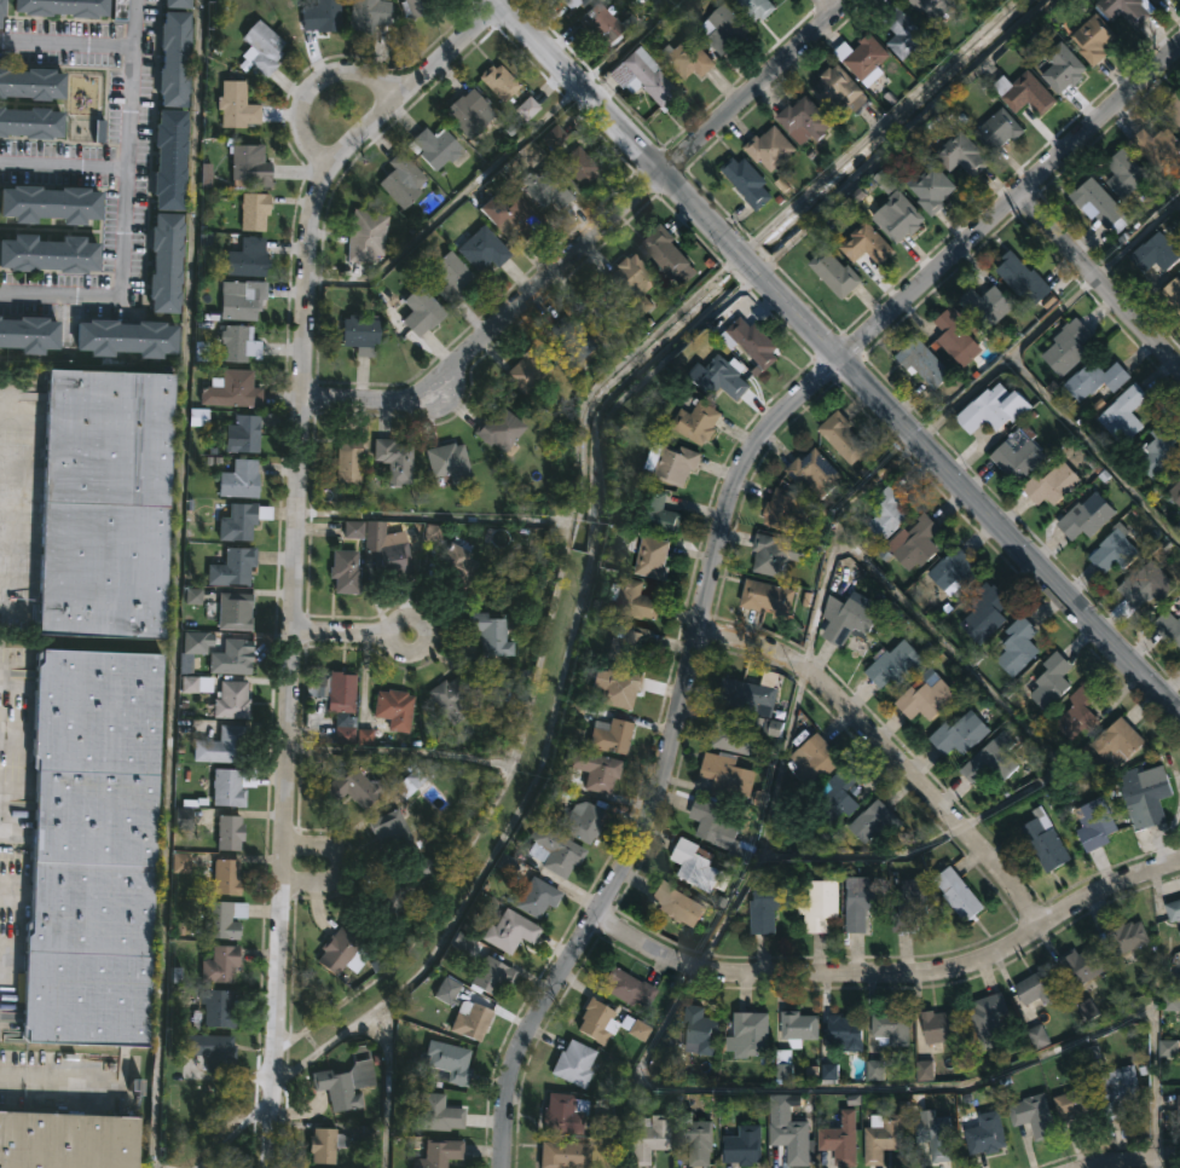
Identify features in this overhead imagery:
building: (1157, 1)
building: (571, 2)
road: (667, 4)
building: (175, 5)
road: (829, 5)
building: (0, 7)
building: (63, 7)
building: (416, 7)
building: (758, 7)
building: (935, 8)
building: (1123, 10)
building: (317, 15)
building: (368, 15)
building: (601, 24)
building: (724, 29)
building: (906, 34)
building: (1095, 40)
road: (66, 44)
road: (630, 44)
building: (261, 48)
building: (684, 57)
building: (867, 57)
building: (173, 60)
building: (1063, 68)
building: (642, 80)
building: (30, 83)
building: (498, 83)
road: (313, 85)
building: (840, 92)
building: (1026, 93)
building: (236, 105)
building: (1173, 110)
building: (469, 114)
building: (29, 121)
building: (806, 121)
road: (618, 126)
road: (877, 127)
building: (1000, 131)
road: (908, 138)
building: (434, 148)
building: (1158, 148)
building: (770, 149)
building: (962, 155)
building: (168, 160)
building: (248, 162)
road: (64, 164)
building: (579, 167)
building: (1124, 179)
building: (403, 181)
building: (747, 183)
building: (932, 189)
building: (545, 190)
building: (50, 202)
road: (452, 204)
building: (1101, 206)
building: (254, 210)
building: (893, 210)
road: (126, 213)
building: (511, 219)
building: (365, 236)
road: (589, 238)
road: (1138, 238)
building: (868, 245)
building: (484, 250)
building: (1158, 251)
building: (48, 253)
building: (669, 253)
building: (247, 256)
building: (164, 261)
road: (748, 262)
building: (452, 271)
building: (835, 273)
building: (1024, 279)
road: (1098, 281)
building: (635, 282)
building: (1172, 293)
building: (241, 299)
building: (988, 305)
building: (602, 310)
building: (421, 311)
building: (359, 334)
building: (29, 335)
building: (959, 335)
building: (125, 336)
building: (571, 340)
building: (754, 341)
building: (238, 342)
building: (1069, 347)
road: (1006, 358)
building: (925, 362)
building: (526, 370)
building: (723, 375)
building: (1098, 378)
building: (232, 391)
building: (995, 407)
building: (1128, 411)
road: (16, 414)
building: (698, 420)
building: (499, 428)
building: (241, 434)
building: (844, 436)
building: (1162, 447)
road: (1092, 450)
building: (1020, 452)
building: (394, 459)
building: (349, 461)
building: (447, 462)
building: (671, 462)
building: (1178, 467)
road: (15, 470)
building: (815, 472)
building: (239, 480)
building: (1053, 482)
road: (573, 491)
building: (1175, 492)
road: (971, 496)
building: (103, 503)
building: (783, 510)
building: (891, 510)
building: (658, 511)
building: (1087, 516)
building: (239, 520)
road: (8, 526)
building: (354, 532)
road: (719, 532)
building: (919, 543)
road: (295, 547)
building: (1117, 550)
building: (773, 554)
building: (392, 556)
building: (653, 557)
building: (457, 562)
building: (232, 566)
building: (956, 567)
building: (345, 571)
road: (16, 580)
road: (180, 584)
building: (1147, 584)
building: (634, 599)
building: (765, 599)
building: (233, 611)
road: (12, 612)
building: (987, 612)
building: (850, 621)
building: (1169, 626)
road: (352, 634)
building: (488, 635)
building: (630, 644)
building: (1019, 646)
road: (945, 648)
building: (231, 659)
building: (898, 663)
road: (2, 680)
building: (1051, 681)
building: (196, 684)
building: (618, 687)
building: (335, 693)
building: (751, 695)
building: (451, 698)
building: (927, 699)
building: (231, 701)
building: (395, 709)
building: (1081, 712)
building: (731, 732)
road: (5, 734)
building: (961, 734)
building: (612, 738)
building: (1120, 741)
building: (221, 746)
road: (511, 748)
road: (887, 750)
building: (814, 759)
building: (991, 762)
building: (591, 769)
building: (728, 775)
building: (411, 784)
building: (227, 788)
building: (354, 788)
building: (835, 797)
building: (1146, 797)
road: (1, 814)
building: (583, 821)
building: (877, 821)
road: (767, 825)
building: (1097, 825)
building: (718, 828)
building: (392, 831)
building: (229, 833)
building: (1047, 844)
building: (91, 848)
building: (554, 851)
road: (862, 855)
building: (698, 866)
road: (336, 867)
building: (226, 877)
road: (4, 886)
building: (959, 894)
building: (397, 895)
building: (537, 898)
building: (913, 903)
building: (677, 904)
building: (821, 904)
building: (862, 904)
building: (768, 906)
building: (1174, 910)
building: (222, 920)
building: (510, 932)
building: (1124, 937)
road: (7, 952)
building: (337, 952)
building: (1084, 964)
building: (219, 965)
road: (892, 971)
building: (491, 977)
building: (1037, 987)
building: (627, 988)
building: (451, 991)
building: (218, 1010)
building: (990, 1019)
building: (470, 1022)
building: (607, 1024)
road: (383, 1025)
building: (891, 1027)
building: (941, 1027)
building: (799, 1028)
building: (702, 1030)
building: (843, 1031)
building: (751, 1034)
building: (209, 1051)
building: (450, 1062)
building: (574, 1064)
building: (785, 1064)
road: (58, 1083)
building: (345, 1086)
road: (912, 1088)
building: (1120, 1089)
building: (1179, 1105)
building: (1078, 1106)
building: (438, 1114)
building: (565, 1115)
building: (1035, 1116)
road: (227, 1131)
building: (937, 1134)
building: (987, 1134)
building: (365, 1135)
building: (883, 1138)
building: (649, 1139)
building: (694, 1139)
building: (66, 1140)
building: (792, 1141)
building: (840, 1141)
building: (325, 1146)
building: (744, 1146)
building: (435, 1153)
building: (565, 1155)
road: (1133, 1160)

